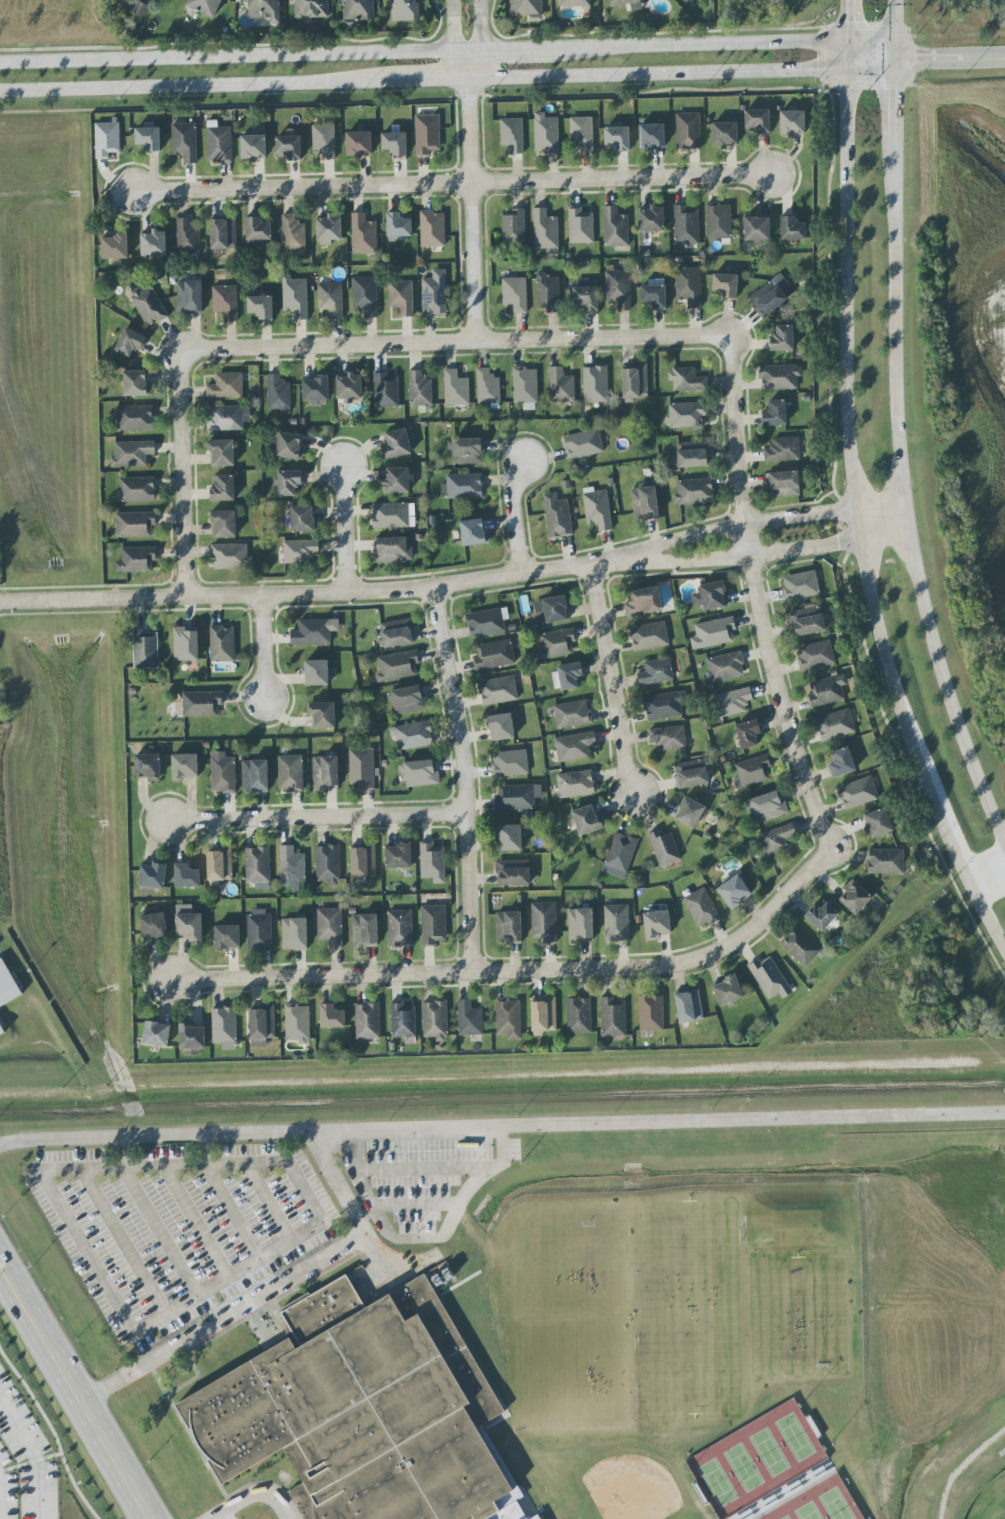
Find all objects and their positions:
building: (575, 3)
building: (636, 5)
building: (205, 6)
building: (526, 7)
building: (140, 9)
building: (310, 9)
building: (264, 10)
building: (405, 10)
building: (357, 11)
road: (896, 22)
road: (847, 23)
road: (451, 27)
road: (480, 40)
road: (871, 45)
road: (930, 46)
road: (700, 49)
road: (985, 49)
road: (503, 54)
road: (226, 60)
road: (460, 66)
road: (502, 76)
building: (757, 120)
building: (792, 122)
building: (688, 131)
building: (546, 133)
building: (582, 133)
building: (725, 133)
building: (427, 134)
building: (512, 134)
building: (651, 136)
building: (148, 138)
building: (106, 139)
building: (617, 139)
building: (185, 141)
building: (218, 142)
building: (324, 142)
building: (359, 143)
building: (395, 143)
building: (253, 146)
building: (289, 146)
road: (455, 185)
road: (470, 209)
building: (651, 221)
building: (718, 221)
building: (686, 225)
building: (580, 226)
building: (397, 227)
building: (514, 227)
building: (615, 227)
building: (757, 228)
building: (792, 228)
building: (257, 229)
building: (329, 229)
building: (432, 229)
building: (545, 231)
building: (223, 233)
building: (293, 233)
building: (363, 234)
building: (187, 236)
building: (153, 243)
building: (115, 246)
building: (726, 285)
building: (689, 286)
building: (618, 288)
building: (547, 290)
building: (434, 293)
building: (515, 293)
building: (366, 295)
building: (585, 295)
building: (654, 295)
building: (771, 295)
building: (189, 297)
building: (295, 297)
building: (401, 297)
building: (331, 298)
building: (225, 301)
building: (147, 304)
building: (261, 307)
building: (782, 338)
building: (129, 342)
road: (454, 343)
building: (780, 377)
building: (687, 379)
building: (634, 382)
building: (136, 383)
building: (595, 384)
building: (226, 386)
building: (561, 386)
building: (349, 387)
building: (488, 387)
building: (525, 387)
building: (455, 388)
building: (315, 389)
building: (419, 389)
building: (386, 390)
building: (278, 394)
building: (775, 413)
building: (687, 414)
building: (228, 417)
building: (135, 418)
building: (396, 443)
building: (583, 444)
building: (290, 446)
road: (899, 448)
building: (783, 449)
building: (468, 451)
building: (132, 453)
building: (222, 453)
building: (693, 454)
road: (180, 475)
building: (397, 480)
building: (288, 482)
building: (783, 484)
building: (462, 486)
building: (223, 488)
building: (137, 489)
building: (694, 491)
building: (644, 503)
building: (597, 509)
road: (856, 511)
building: (393, 515)
building: (557, 516)
road: (513, 517)
building: (302, 519)
road: (766, 521)
building: (224, 523)
building: (135, 524)
road: (343, 530)
building: (474, 533)
building: (391, 549)
building: (300, 551)
road: (771, 553)
building: (230, 556)
building: (137, 559)
road: (611, 561)
building: (800, 585)
road: (296, 594)
building: (710, 595)
road: (754, 596)
building: (643, 602)
building: (551, 610)
building: (487, 621)
building: (806, 621)
building: (314, 631)
building: (397, 633)
building: (713, 633)
building: (649, 636)
building: (185, 643)
building: (556, 643)
building: (222, 644)
building: (145, 649)
road: (263, 649)
building: (494, 654)
building: (816, 655)
building: (397, 666)
building: (725, 666)
building: (319, 672)
building: (656, 672)
building: (568, 676)
road: (611, 680)
building: (497, 690)
building: (827, 691)
building: (408, 699)
building: (734, 701)
building: (202, 703)
building: (662, 706)
building: (572, 714)
building: (322, 715)
building: (835, 725)
building: (501, 727)
building: (747, 733)
building: (411, 735)
building: (667, 738)
building: (574, 746)
building: (510, 763)
building: (841, 763)
building: (185, 766)
building: (148, 767)
building: (362, 768)
building: (752, 771)
building: (222, 772)
building: (290, 773)
building: (325, 773)
building: (421, 773)
building: (691, 774)
building: (255, 775)
road: (463, 778)
building: (576, 784)
building: (858, 793)
building: (517, 797)
building: (768, 806)
building: (689, 812)
road: (317, 817)
building: (586, 819)
building: (878, 823)
building: (509, 837)
building: (777, 839)
building: (664, 848)
building: (619, 855)
building: (398, 856)
building: (363, 861)
building: (432, 861)
building: (885, 861)
building: (219, 864)
building: (328, 864)
building: (257, 865)
building: (292, 869)
building: (513, 872)
road: (988, 873)
building: (153, 875)
building: (186, 876)
building: (734, 891)
building: (854, 898)
building: (701, 908)
building: (821, 916)
building: (544, 921)
building: (433, 924)
building: (580, 924)
building: (656, 924)
building: (153, 926)
building: (189, 926)
building: (330, 927)
building: (508, 927)
building: (400, 928)
building: (259, 931)
building: (365, 931)
building: (294, 933)
building: (227, 936)
building: (800, 947)
road: (519, 972)
building: (770, 978)
building: (727, 990)
building: (689, 1006)
building: (651, 1013)
building: (544, 1015)
building: (579, 1015)
building: (331, 1017)
building: (613, 1017)
building: (508, 1018)
building: (469, 1019)
building: (435, 1020)
building: (367, 1021)
building: (403, 1022)
building: (297, 1023)
building: (261, 1025)
building: (224, 1027)
building: (156, 1034)
building: (192, 1039)
road: (502, 1126)
road: (204, 1150)
road: (122, 1152)
road: (420, 1169)
road: (268, 1203)
road: (414, 1206)
road: (232, 1212)
road: (353, 1215)
road: (196, 1222)
road: (159, 1232)
road: (422, 1239)
road: (122, 1242)
road: (279, 1247)
park: (799, 1288)
park: (692, 1307)
park: (570, 1316)
road: (223, 1319)
road: (75, 1389)
building: (363, 1409)
park: (795, 1435)
road: (296, 1442)
park: (769, 1451)
road: (32, 1455)
park: (743, 1467)
park: (718, 1482)
road: (255, 1496)
park: (990, 1501)
park: (836, 1505)
park: (808, 1512)
road: (218, 1518)
parking lot: (287, 1518)
park: (786, 1518)

